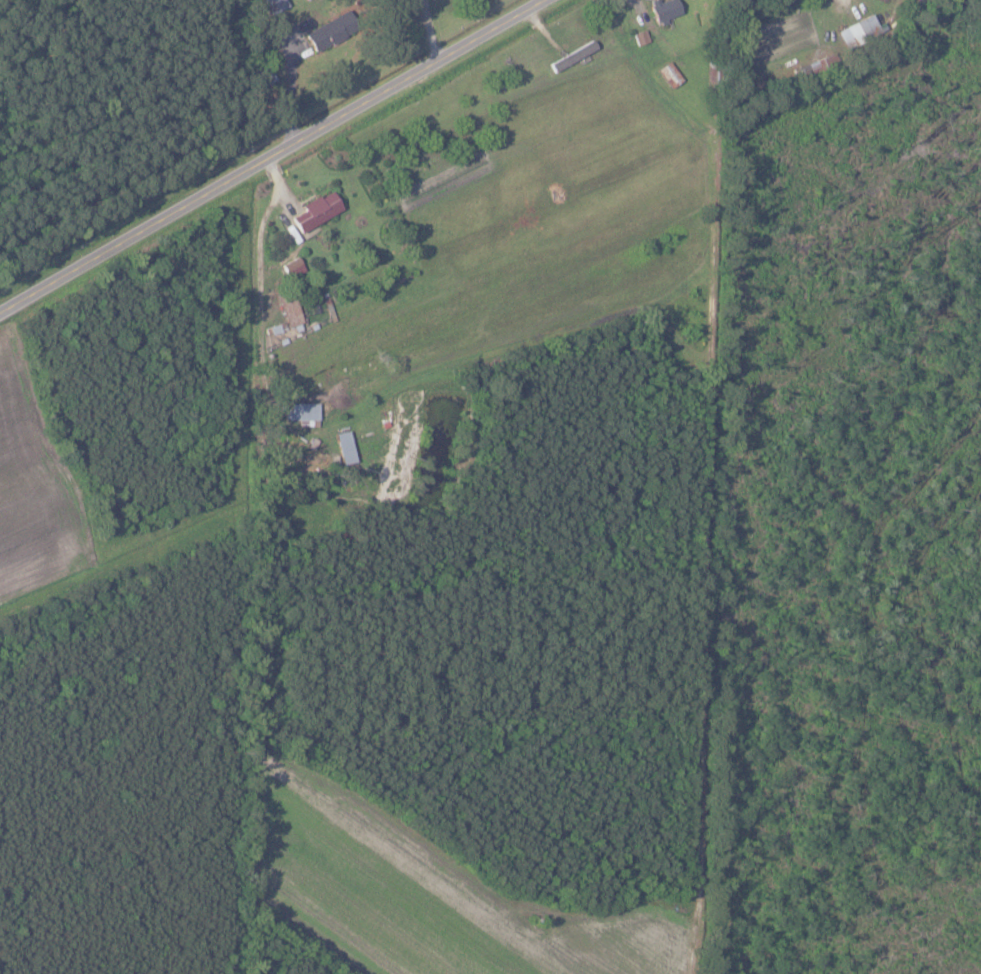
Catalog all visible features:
building: (306, 0)
building: (275, 5)
building: (665, 9)
building: (330, 31)
building: (859, 31)
building: (641, 38)
road: (287, 92)
road: (276, 158)
building: (317, 211)
road: (259, 231)
building: (291, 314)
building: (300, 411)
building: (345, 447)

